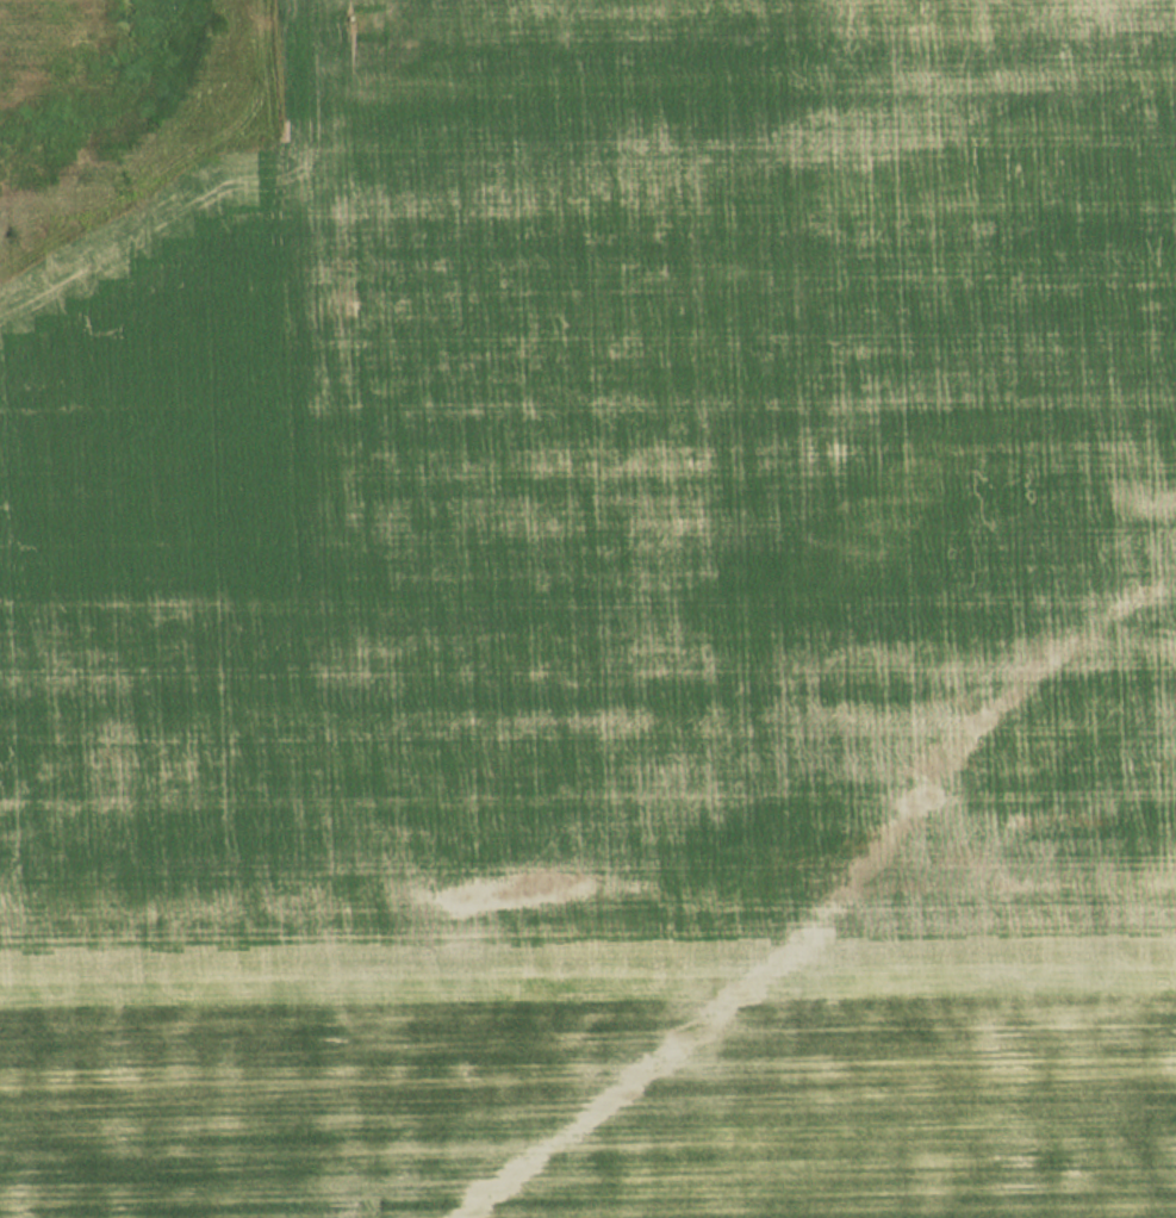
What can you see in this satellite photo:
crop: (609, 632)

